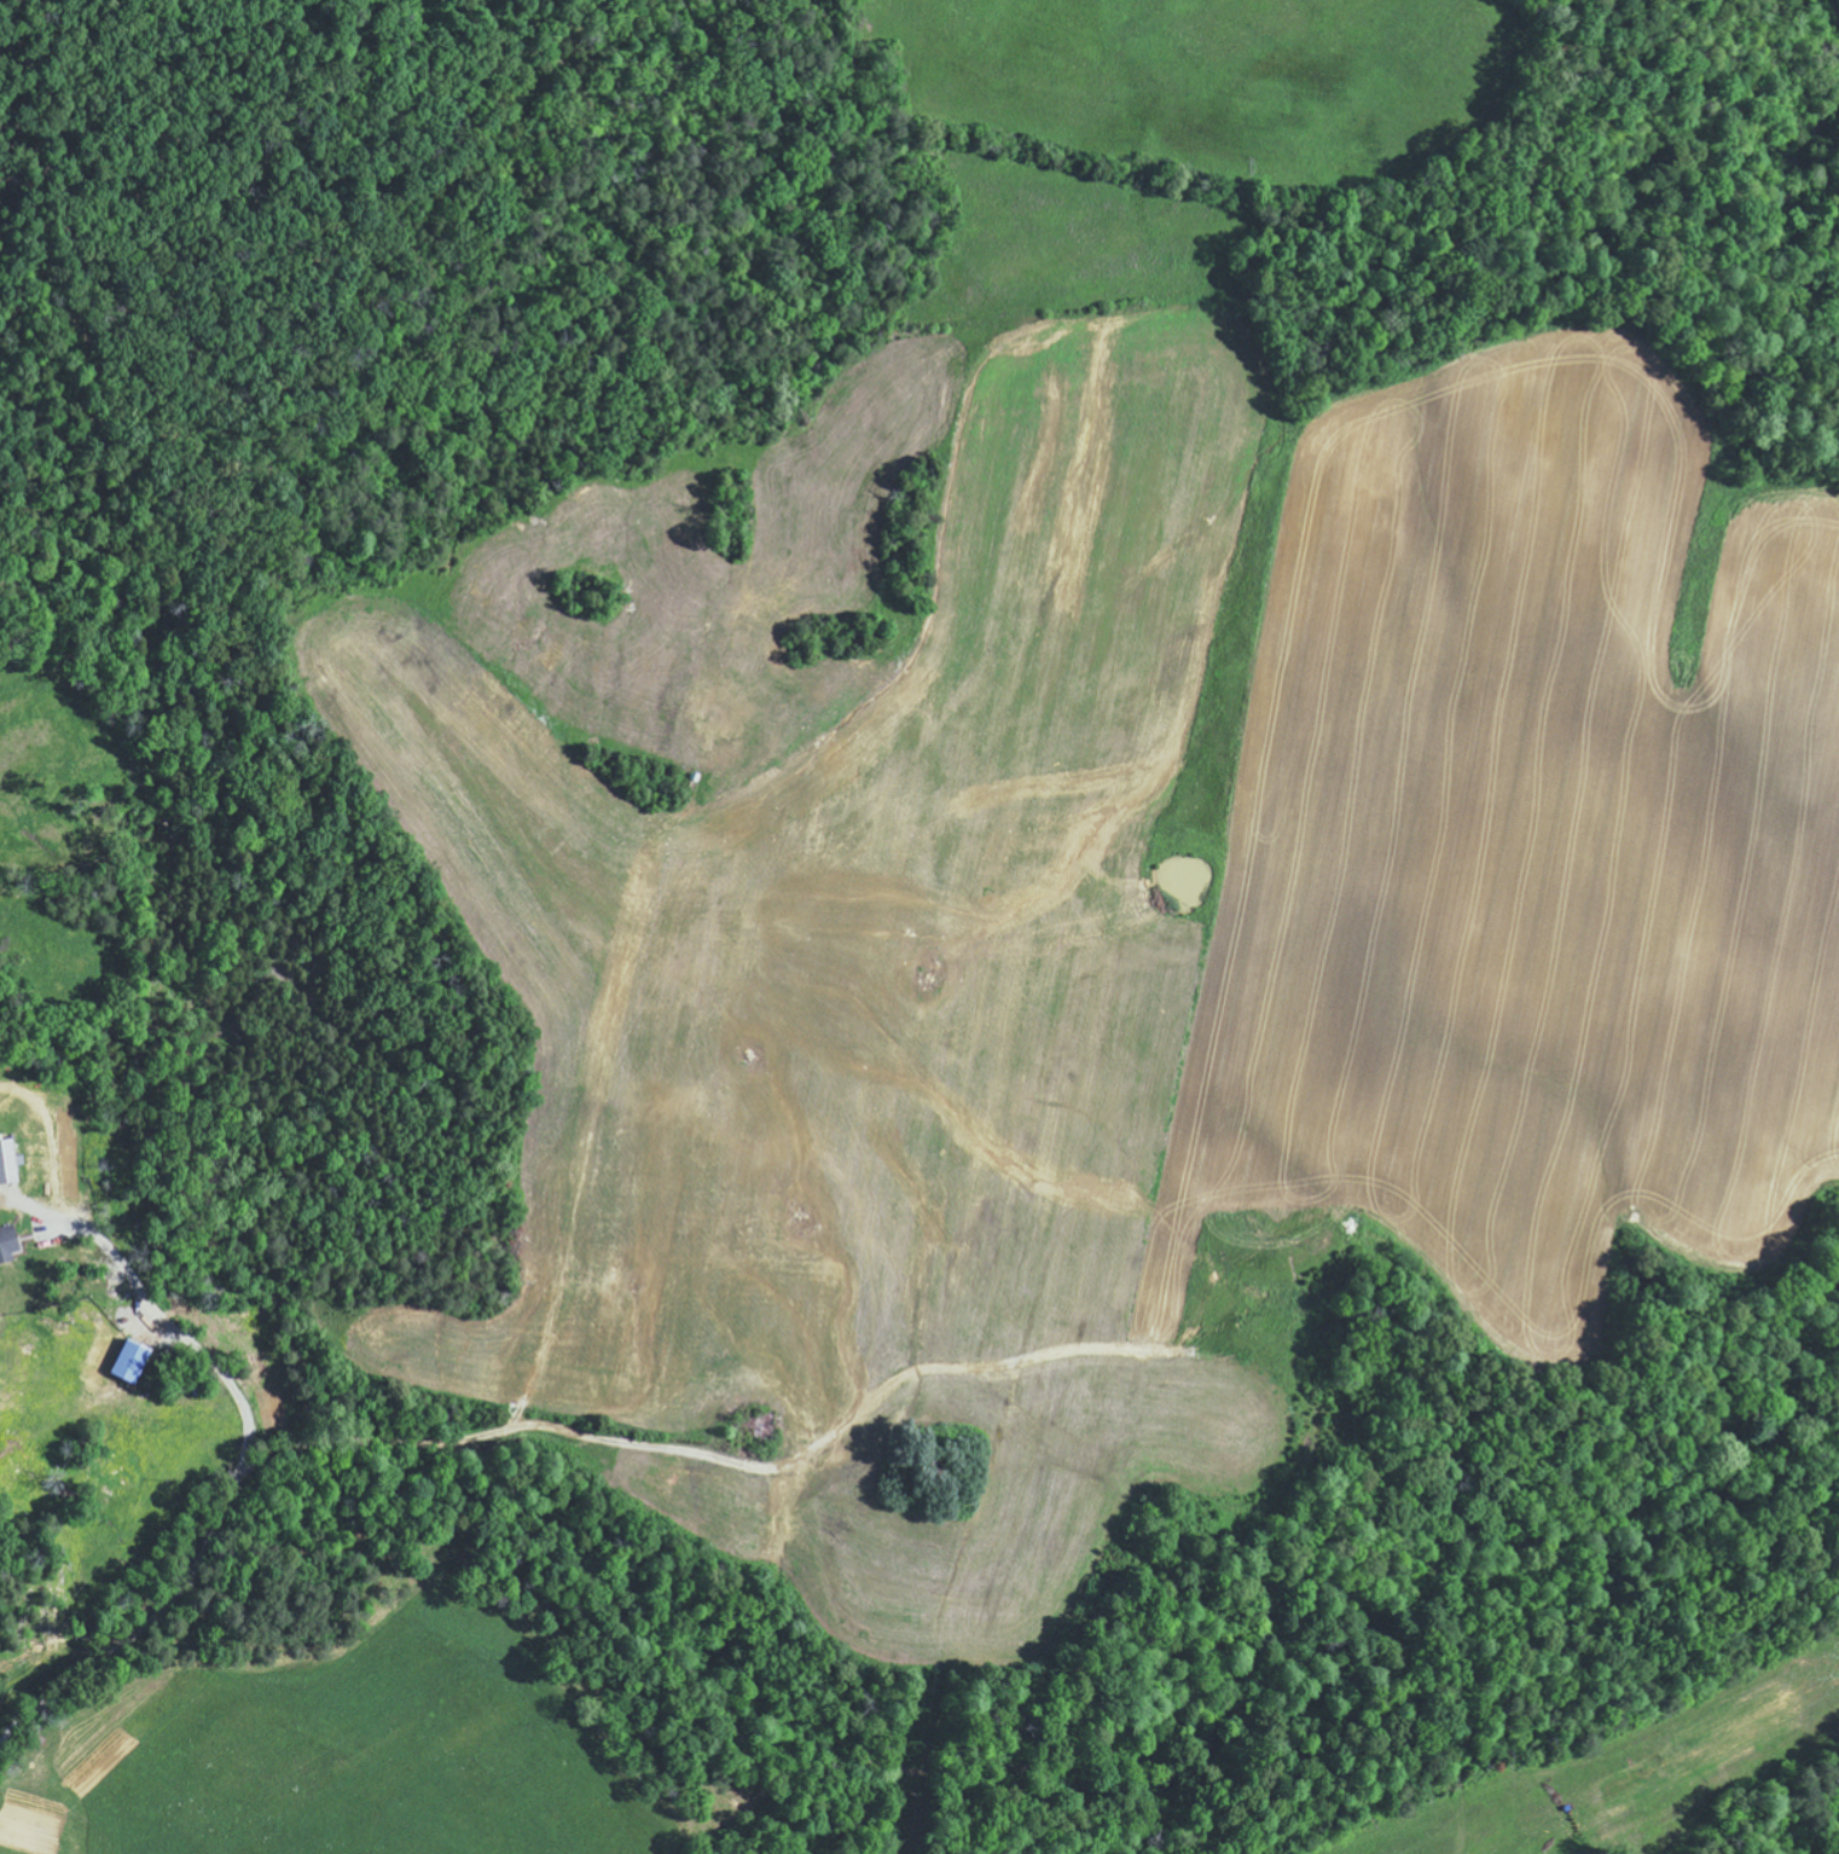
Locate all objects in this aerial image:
building: (10, 1161)
building: (132, 1361)
road: (0, 1720)

